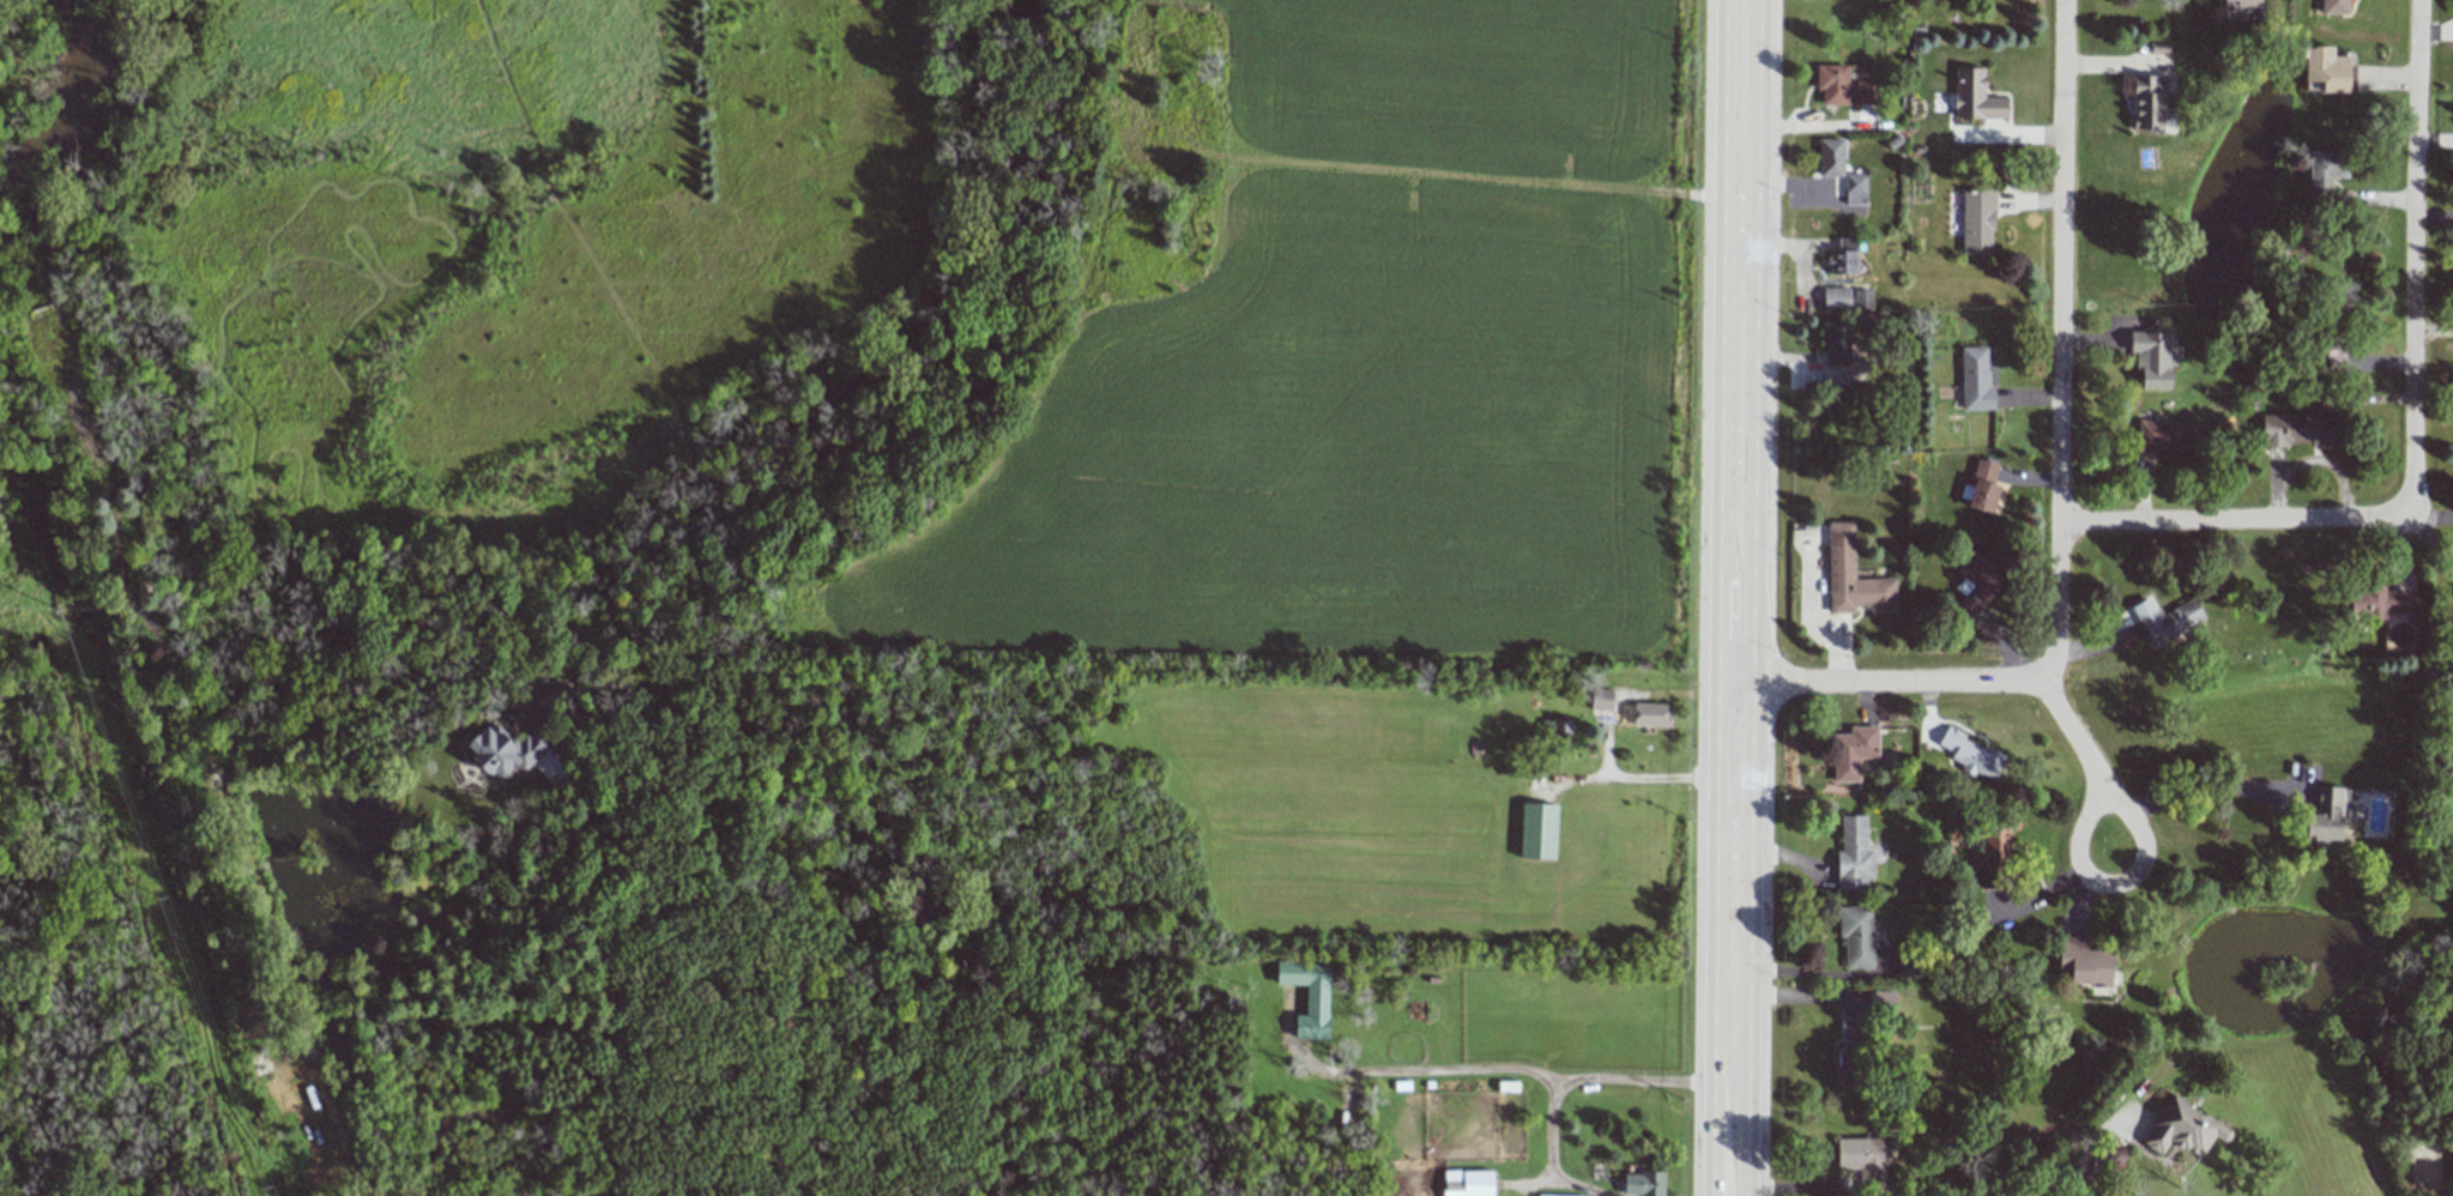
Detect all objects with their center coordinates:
building: (2241, 5)
building: (2334, 6)
building: (2325, 68)
building: (1832, 84)
building: (1865, 92)
building: (1975, 96)
river: (64, 101)
building: (2151, 102)
building: (1830, 157)
building: (2324, 173)
building: (1855, 189)
building: (1977, 222)
building: (1842, 256)
road: (2416, 258)
building: (1845, 298)
building: (1832, 342)
road: (2061, 349)
building: (2151, 358)
crop: (1353, 373)
building: (1975, 377)
building: (2301, 429)
building: (2164, 436)
building: (1984, 488)
road: (2236, 520)
building: (1851, 576)
building: (1975, 585)
road: (1735, 597)
building: (2379, 602)
building: (2449, 603)
power tower: (48, 608)
building: (2165, 618)
road: (1886, 682)
building: (1600, 699)
building: (1650, 714)
building: (1555, 730)
building: (505, 750)
building: (1851, 751)
building: (1971, 755)
road: (2086, 760)
road: (1645, 775)
road: (2203, 784)
road: (223, 790)
building: (2325, 816)
building: (1537, 830)
building: (1853, 854)
building: (1995, 856)
road: (2058, 887)
building: (1855, 936)
building: (2084, 961)
building: (1307, 995)
building: (1891, 1004)
road: (609, 1058)
road: (1514, 1067)
road: (1549, 1125)
building: (2182, 1128)
road: (2083, 1141)
building: (1863, 1161)
building: (1467, 1183)
building: (1643, 1184)
building: (1539, 1195)

